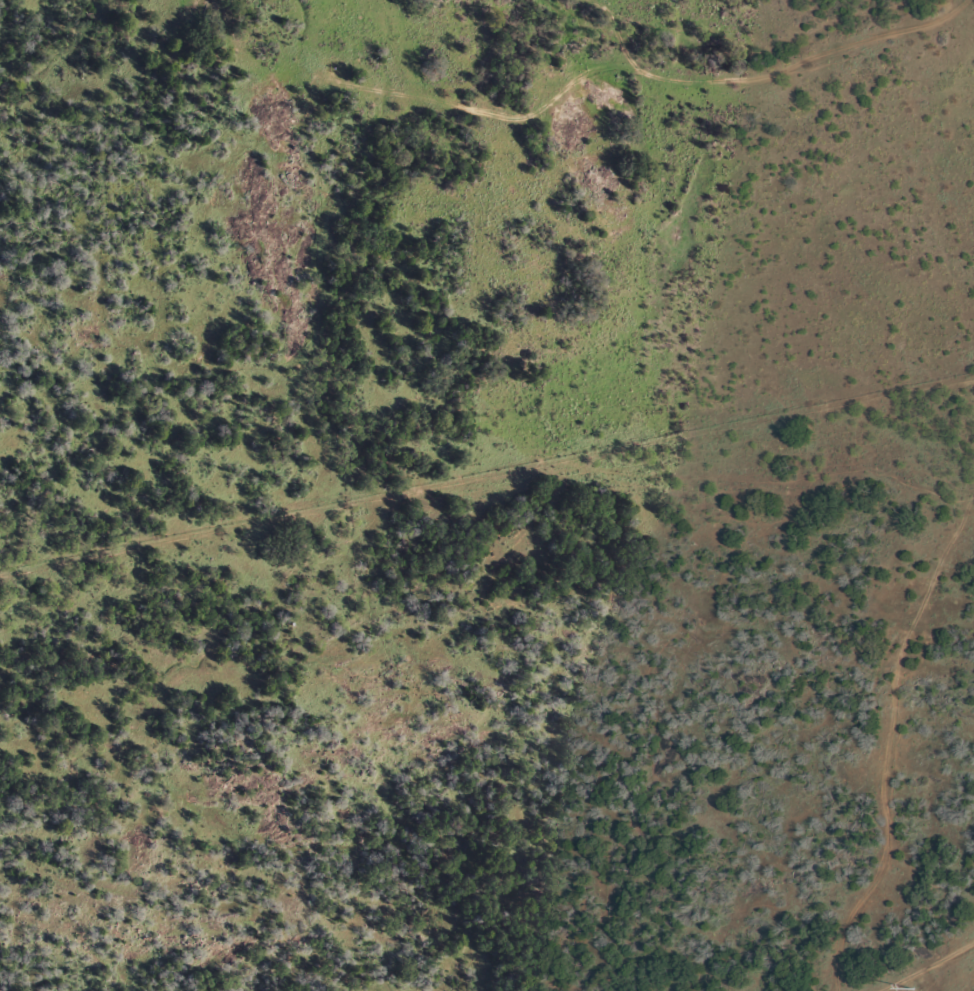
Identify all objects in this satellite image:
road: (886, 746)
power tower: (912, 987)

